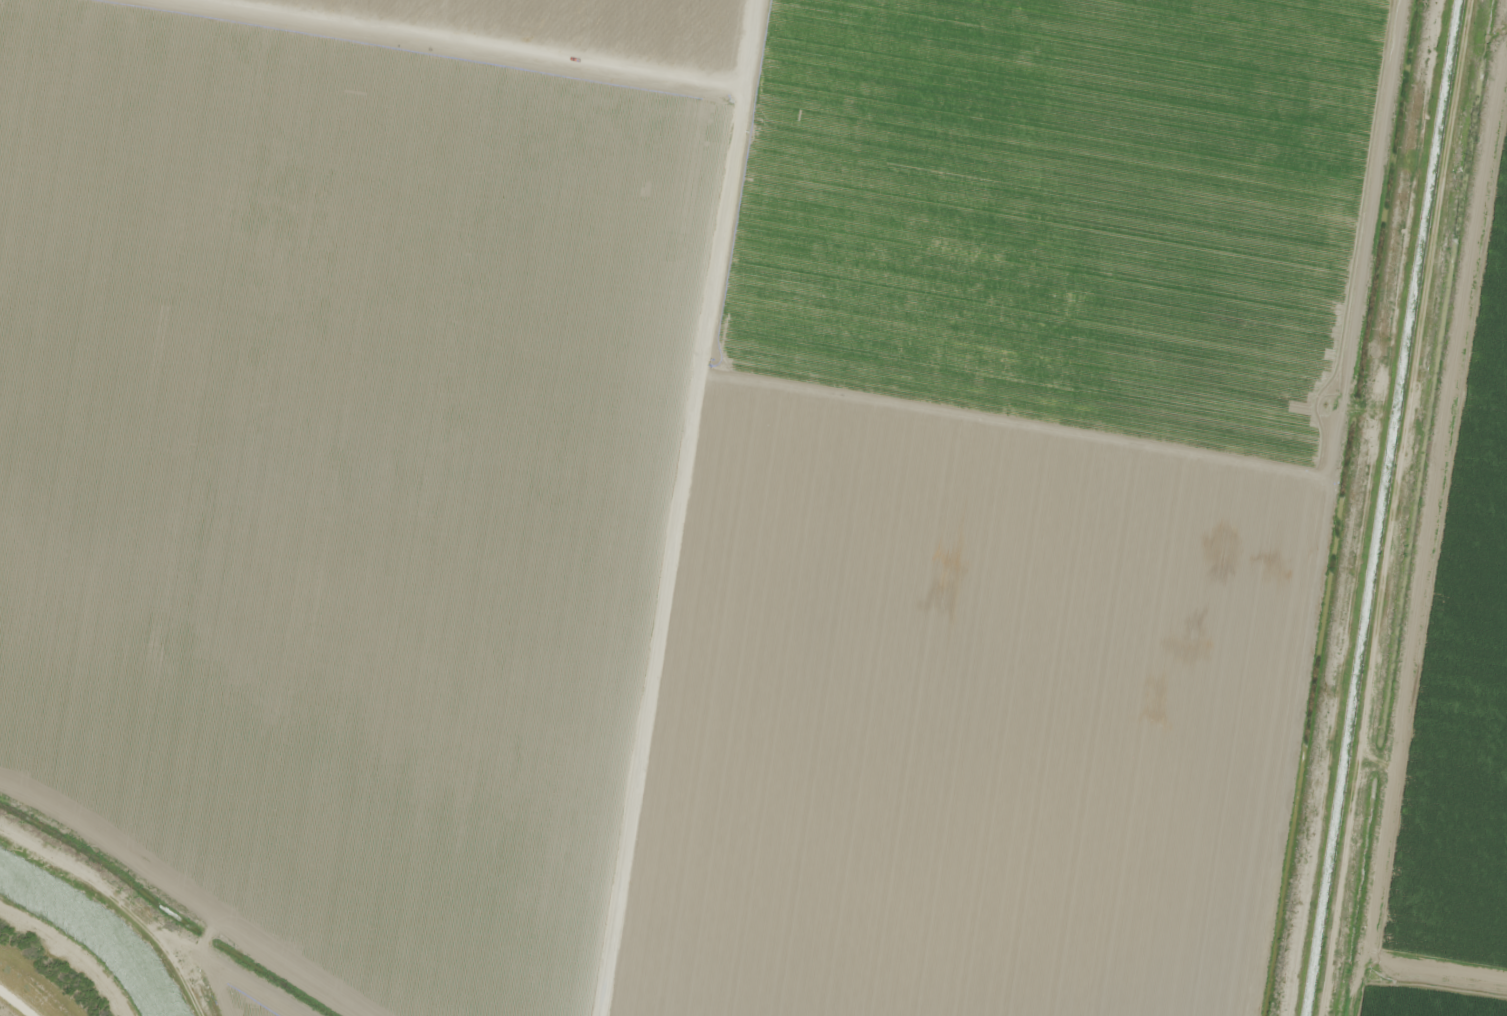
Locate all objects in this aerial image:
road: (487, 58)
road: (1422, 508)
road: (667, 557)
road: (133, 891)
road: (31, 988)

